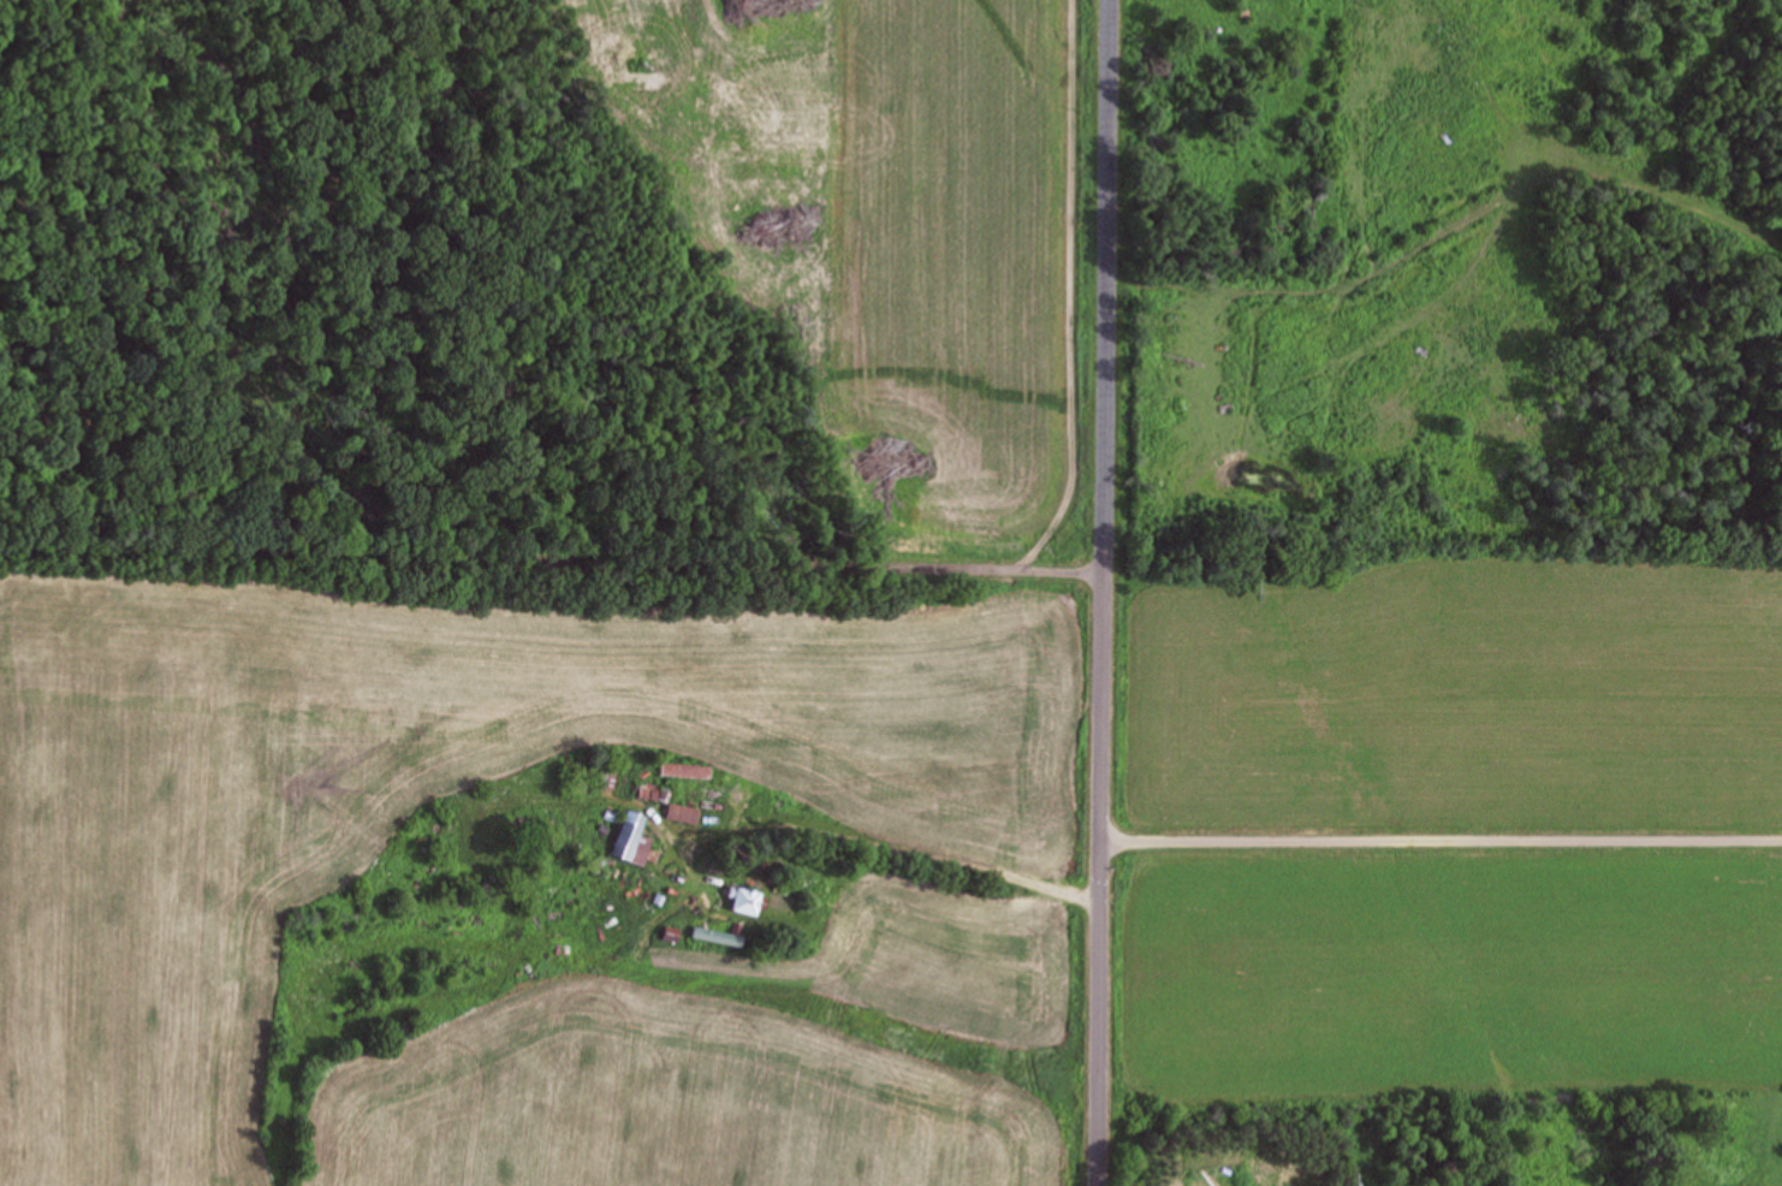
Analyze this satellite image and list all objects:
road: (558, 567)
road: (1116, 593)
building: (608, 772)
building: (679, 812)
road: (1448, 814)
building: (625, 838)
road: (901, 840)
building: (733, 900)
building: (712, 935)

